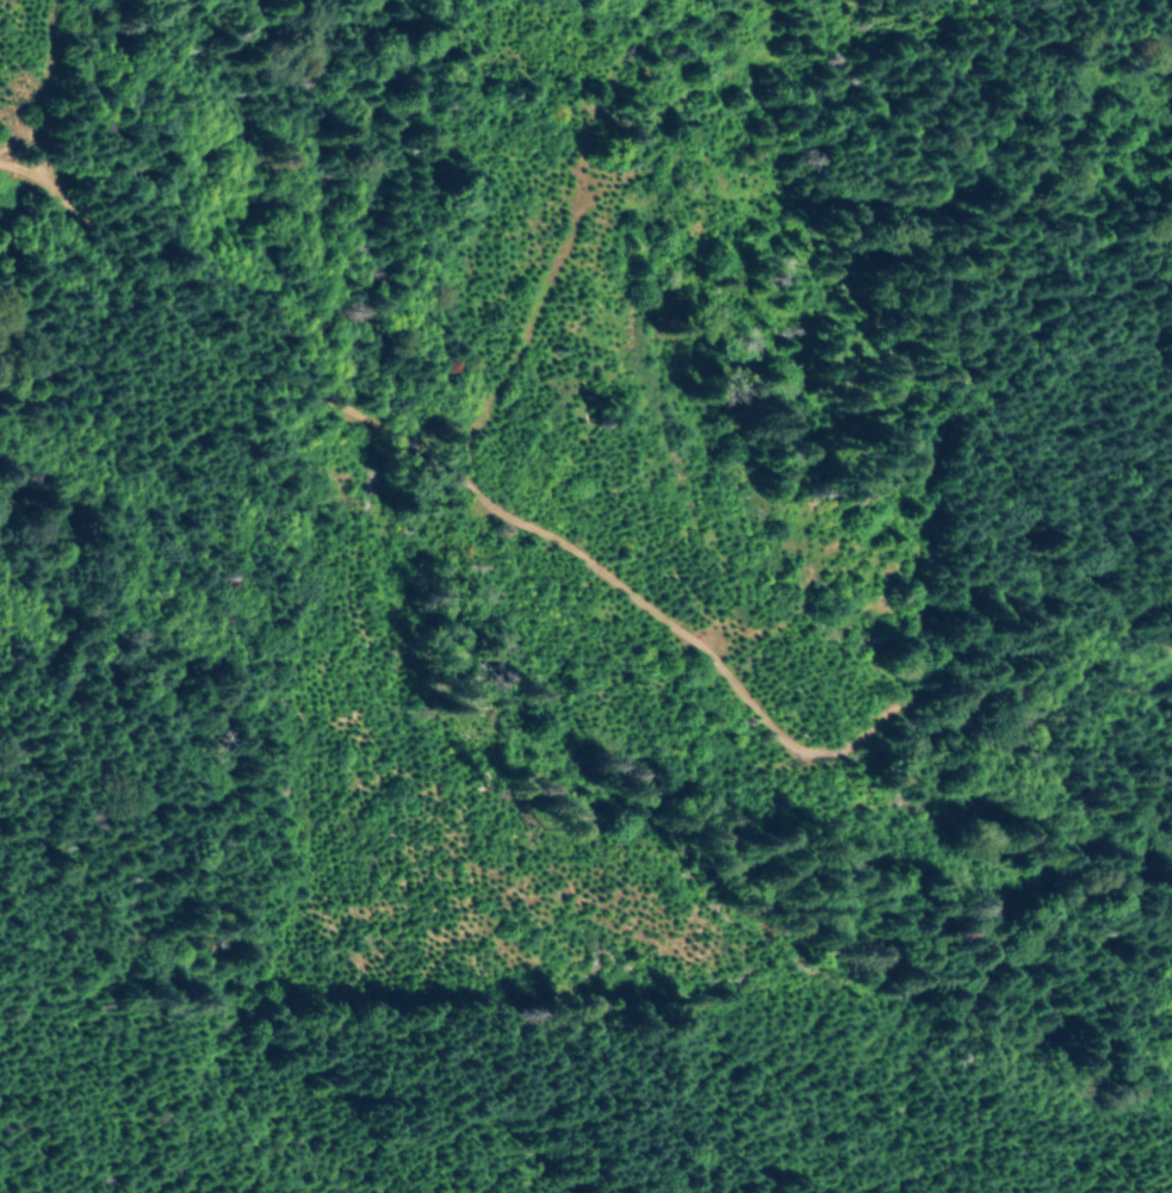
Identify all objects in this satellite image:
road: (153, 296)
road: (1035, 609)
road: (769, 679)
road: (615, 1155)

